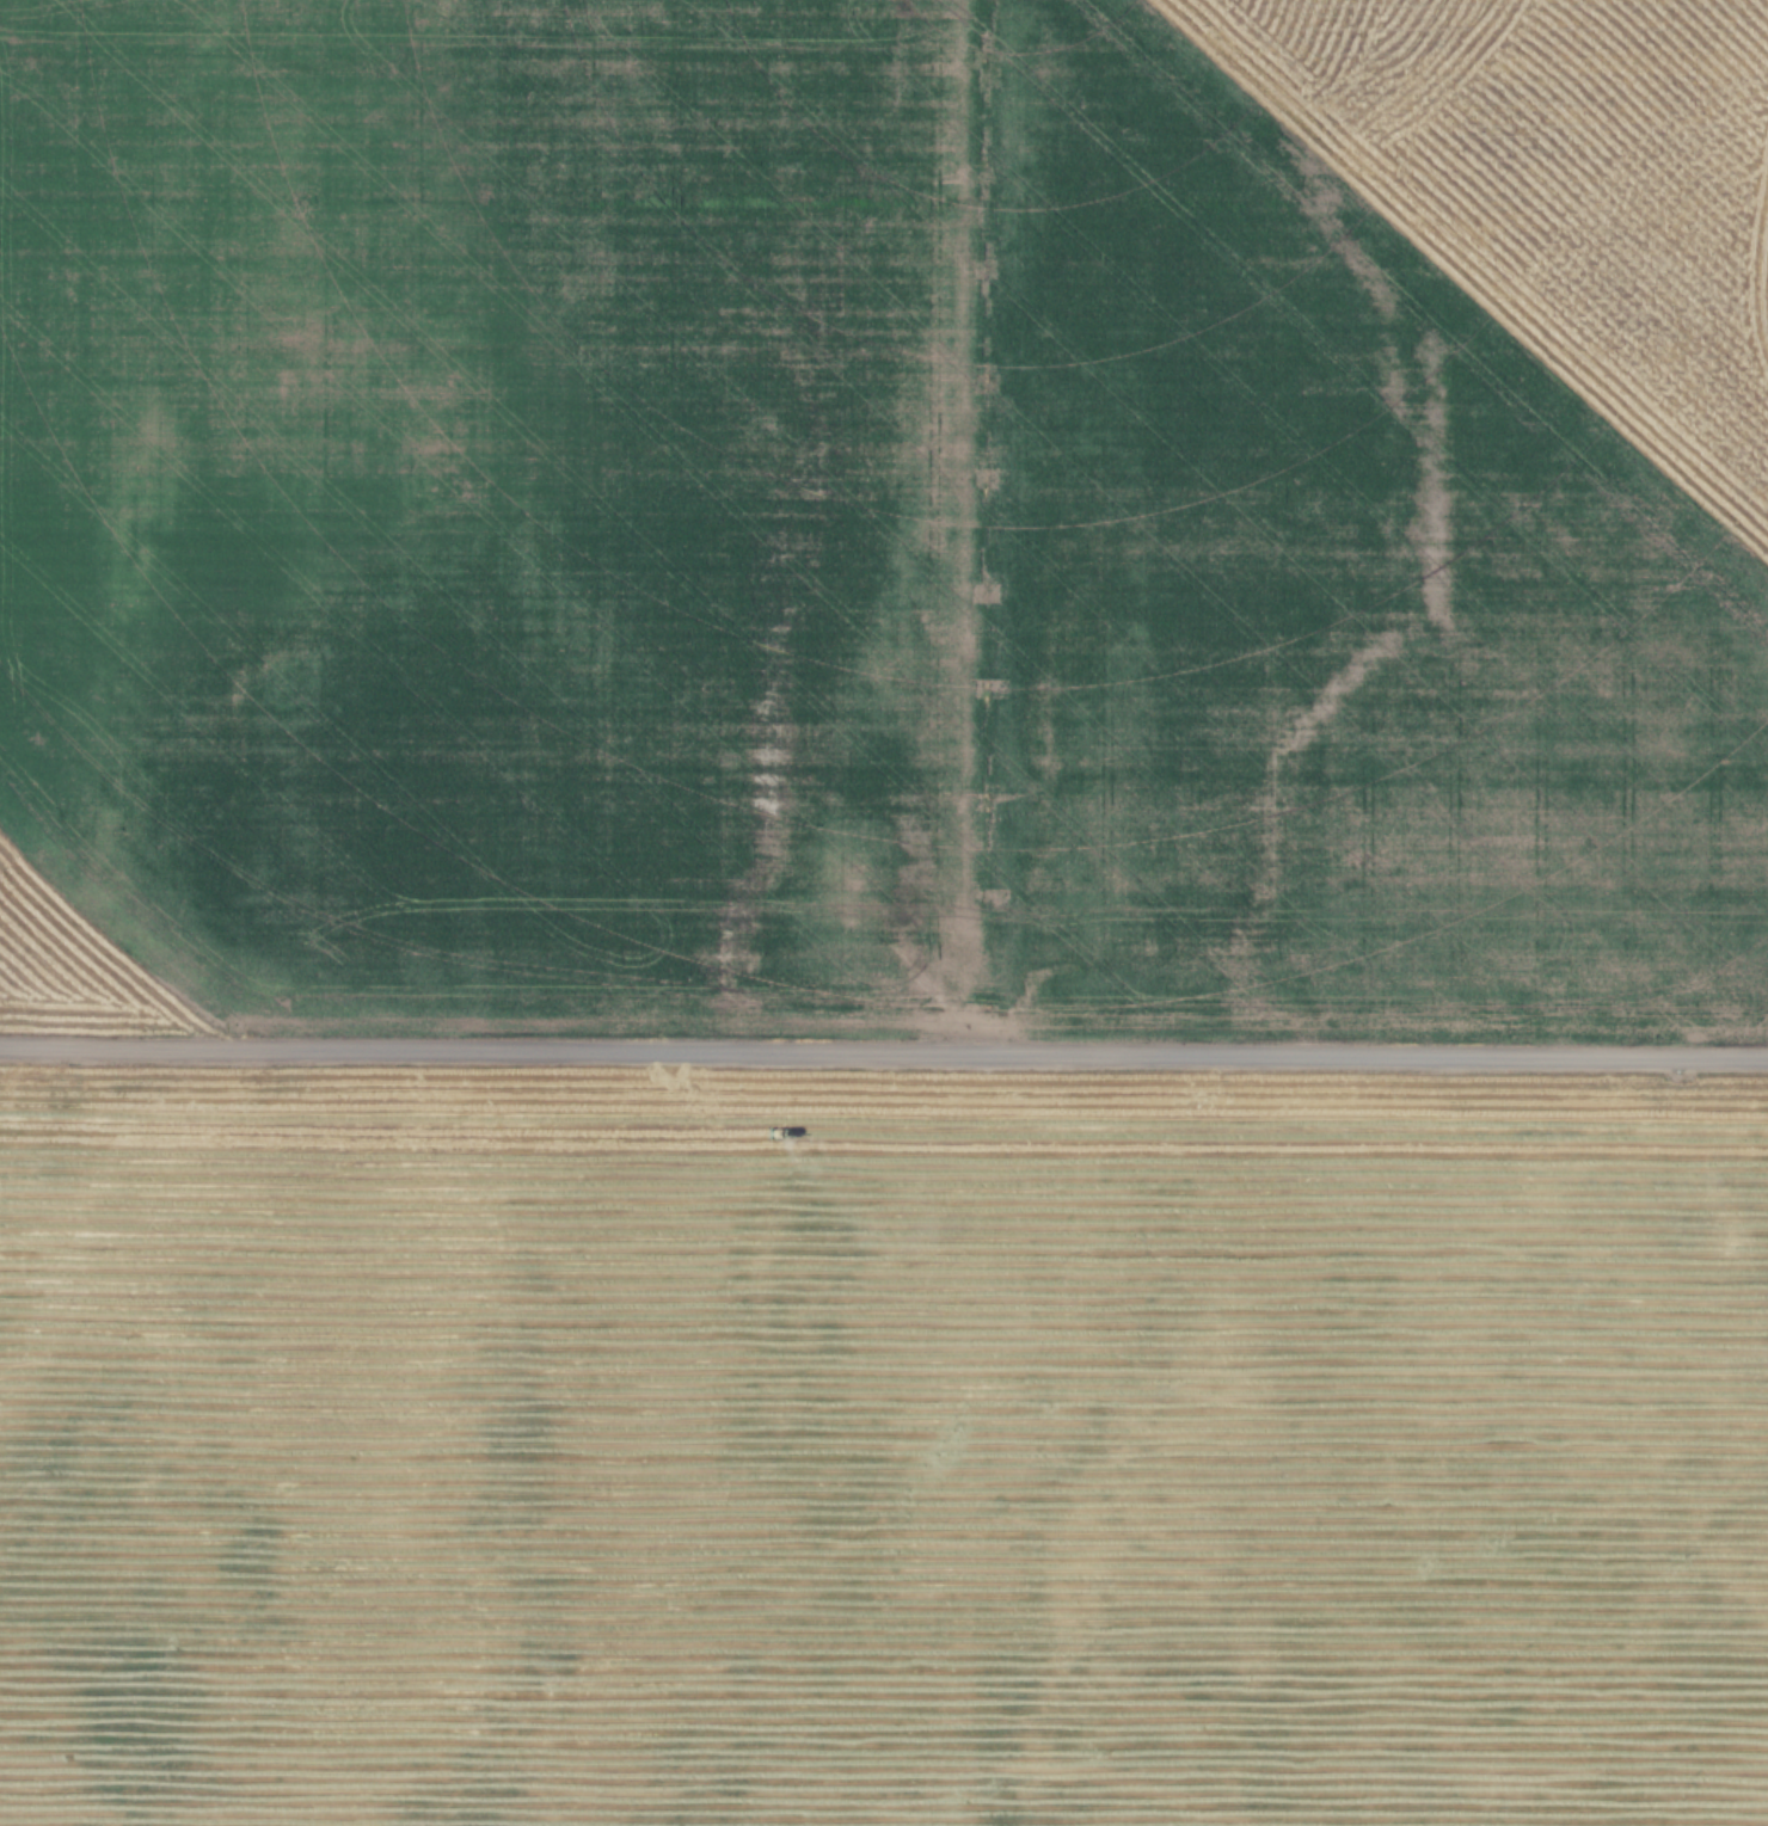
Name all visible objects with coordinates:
road: (884, 1045)

